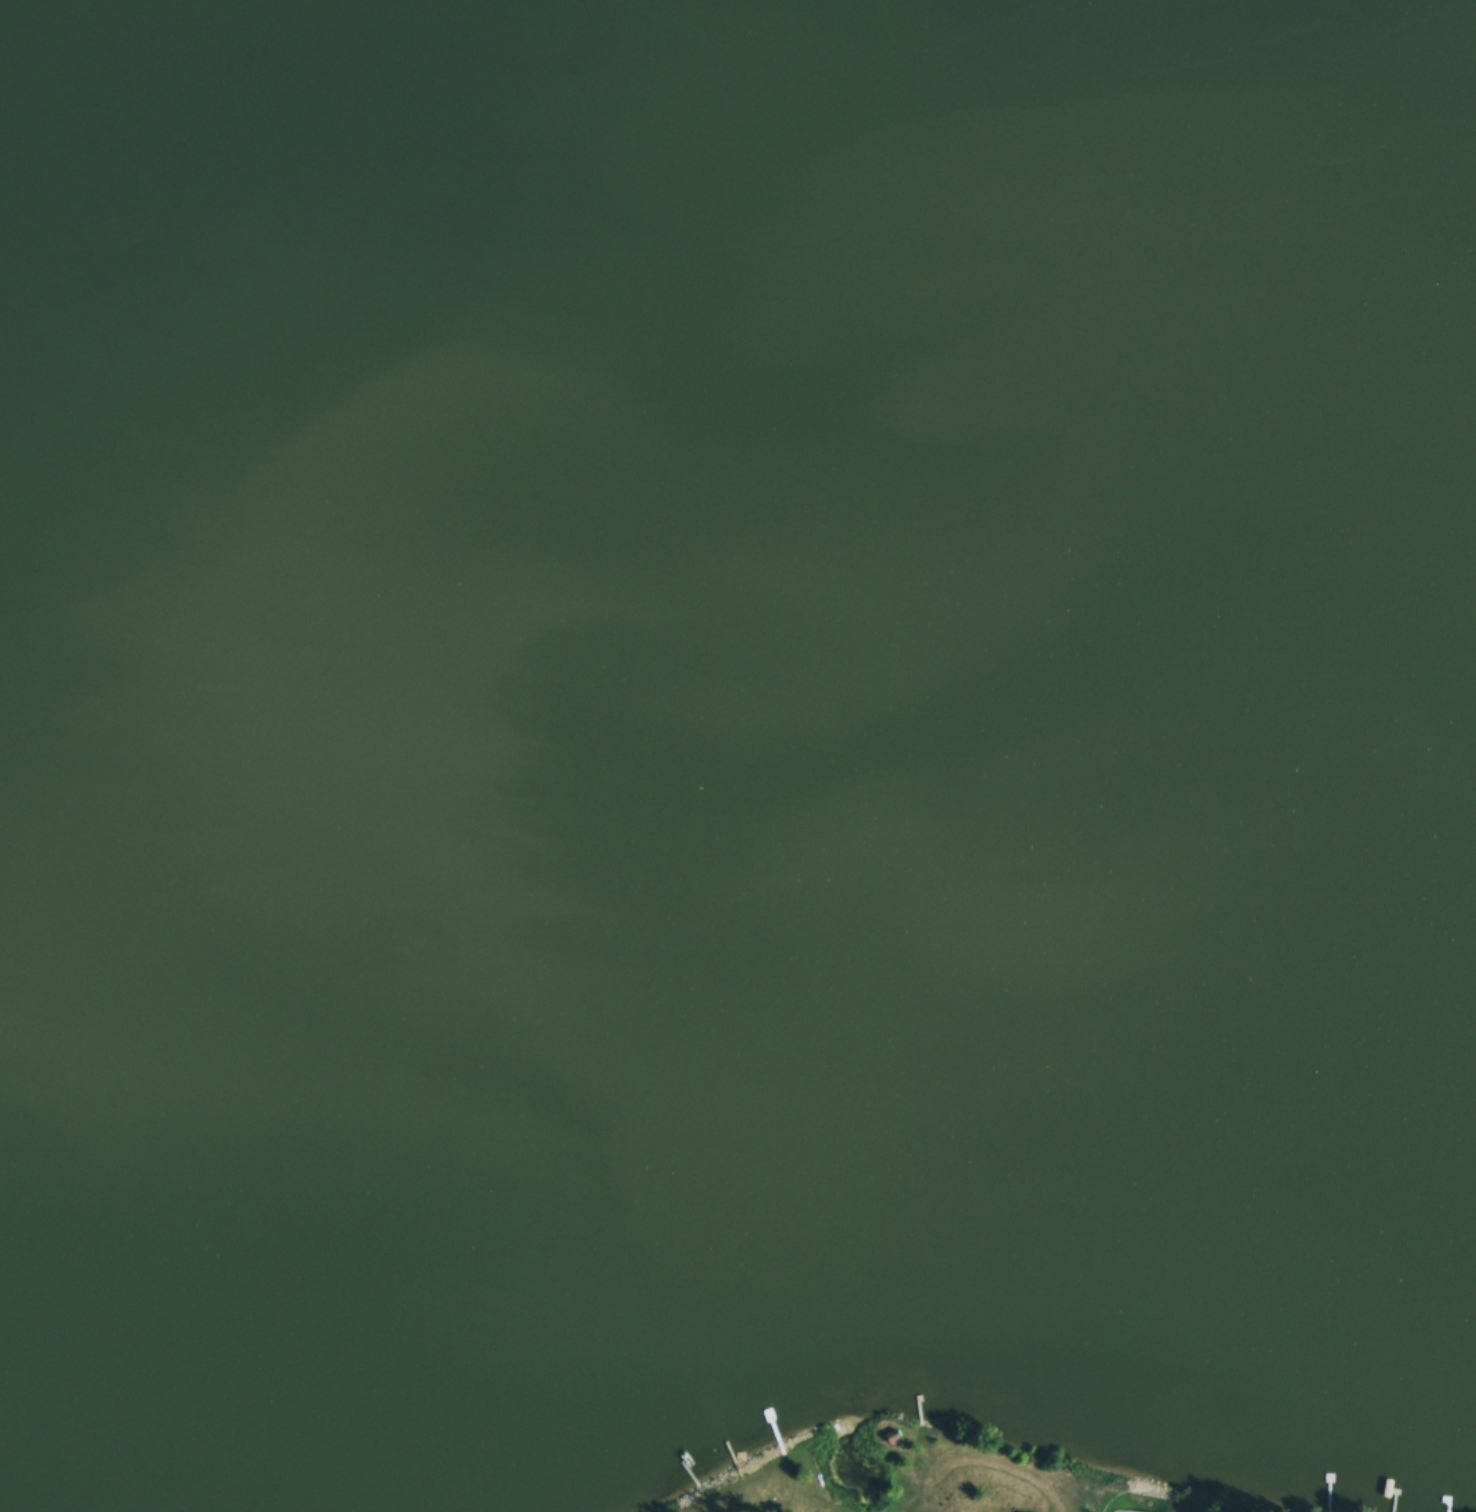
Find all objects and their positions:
river: (1120, 565)
river: (376, 582)
river: (802, 987)

